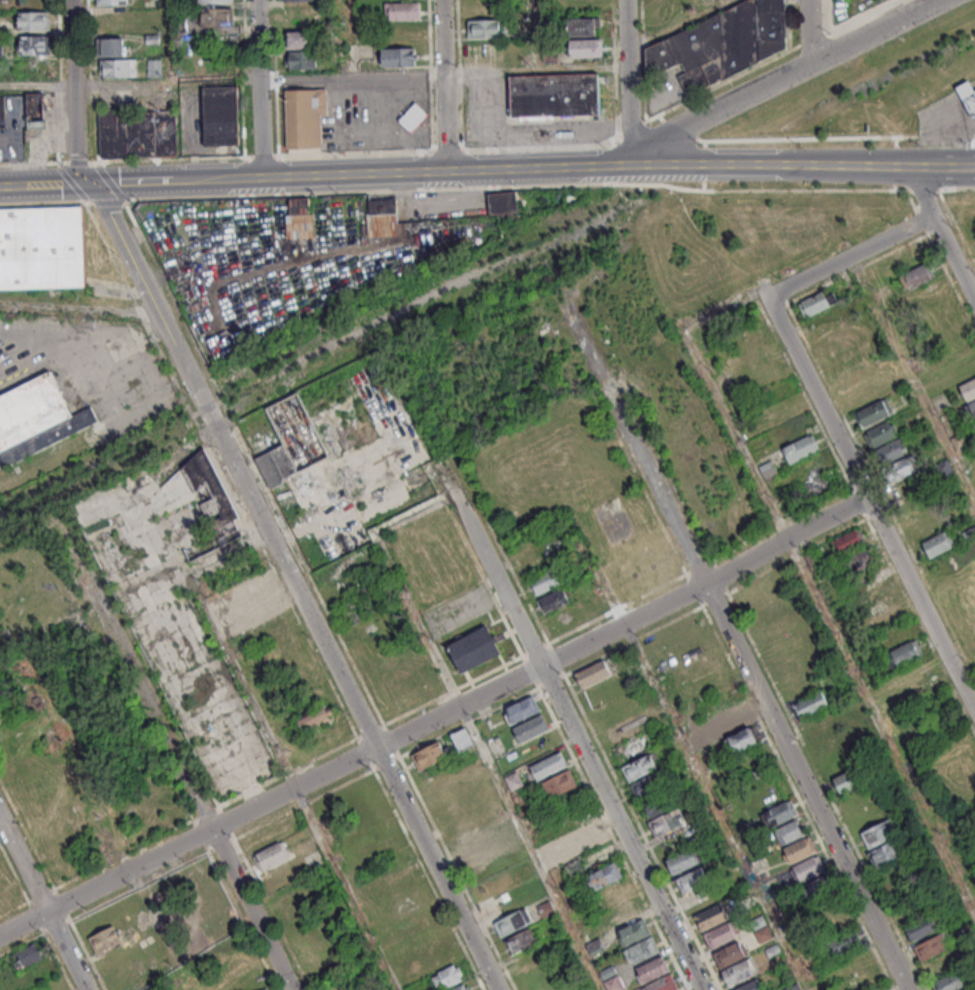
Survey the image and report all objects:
building: (299, 0)
building: (214, 1)
building: (113, 2)
road: (696, 8)
building: (402, 10)
building: (217, 17)
building: (33, 20)
road: (678, 24)
building: (584, 26)
building: (484, 28)
road: (807, 32)
road: (351, 34)
road: (535, 34)
road: (260, 39)
road: (167, 40)
building: (722, 43)
building: (34, 44)
building: (113, 46)
building: (586, 47)
building: (301, 50)
building: (399, 56)
building: (118, 67)
building: (155, 67)
road: (535, 69)
road: (352, 75)
road: (784, 77)
road: (628, 80)
road: (92, 81)
road: (130, 81)
road: (443, 85)
road: (78, 93)
building: (554, 96)
building: (968, 97)
building: (1, 100)
building: (35, 110)
building: (220, 115)
building: (304, 117)
building: (412, 117)
road: (263, 126)
building: (138, 133)
road: (618, 136)
road: (803, 163)
road: (448, 169)
road: (179, 179)
traffic signals: (94, 183)
road: (47, 184)
road: (487, 186)
road: (926, 191)
building: (382, 204)
building: (299, 205)
building: (43, 249)
road: (955, 254)
road: (854, 255)
building: (917, 275)
building: (816, 303)
building: (969, 389)
road: (822, 399)
building: (970, 411)
building: (874, 412)
building: (37, 418)
building: (974, 425)
building: (881, 433)
building: (959, 441)
building: (801, 448)
building: (890, 451)
building: (276, 466)
building: (900, 468)
building: (945, 469)
building: (769, 470)
road: (656, 483)
building: (821, 485)
park: (570, 486)
building: (212, 504)
building: (929, 525)
building: (937, 544)
building: (854, 551)
road: (495, 566)
building: (544, 581)
road: (294, 586)
building: (252, 588)
building: (552, 600)
road: (923, 600)
building: (262, 606)
road: (542, 646)
building: (476, 648)
building: (905, 653)
building: (422, 665)
building: (593, 673)
road: (136, 683)
building: (812, 705)
building: (524, 708)
building: (315, 717)
road: (436, 717)
building: (1, 718)
building: (531, 728)
building: (461, 738)
building: (744, 739)
building: (429, 755)
building: (550, 766)
building: (640, 767)
building: (849, 780)
building: (561, 783)
building: (649, 785)
road: (810, 786)
building: (657, 806)
building: (781, 814)
building: (666, 823)
road: (625, 827)
building: (790, 832)
building: (881, 833)
building: (589, 838)
building: (800, 850)
building: (888, 853)
building: (271, 855)
building: (684, 861)
road: (23, 866)
building: (809, 869)
building: (606, 875)
building: (693, 880)
road: (347, 888)
building: (818, 888)
road: (251, 910)
building: (713, 917)
building: (512, 922)
building: (922, 928)
building: (636, 932)
building: (721, 935)
building: (104, 939)
building: (521, 940)
building: (847, 942)
building: (931, 948)
building: (645, 949)
road: (65, 951)
building: (25, 955)
building: (731, 955)
building: (654, 969)
building: (740, 972)
building: (447, 975)
building: (611, 979)
building: (951, 982)
building: (665, 984)
building: (752, 986)
building: (462, 987)
building: (267, 989)
building: (970, 989)

